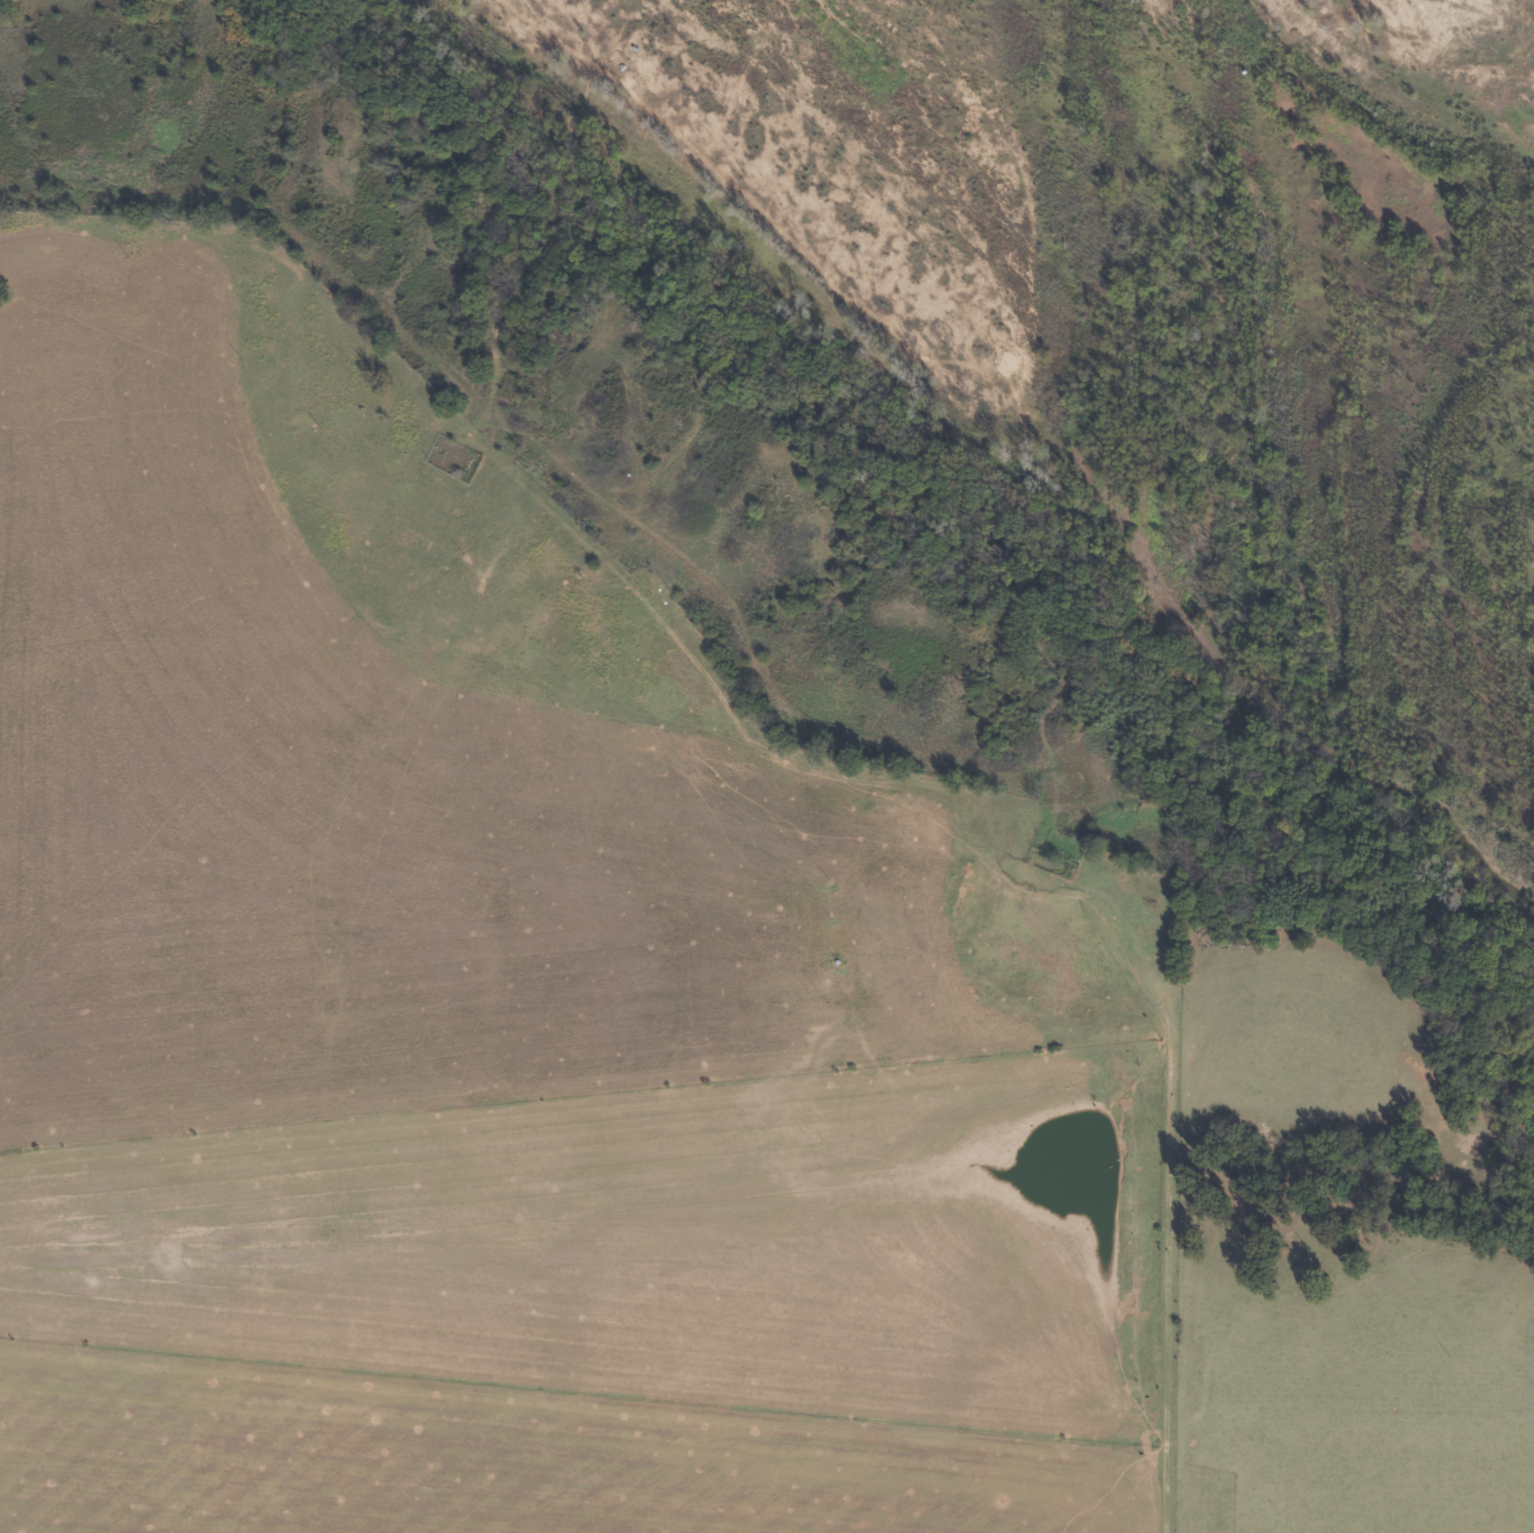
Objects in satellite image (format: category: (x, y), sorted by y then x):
road: (366, 354)
road: (857, 778)

